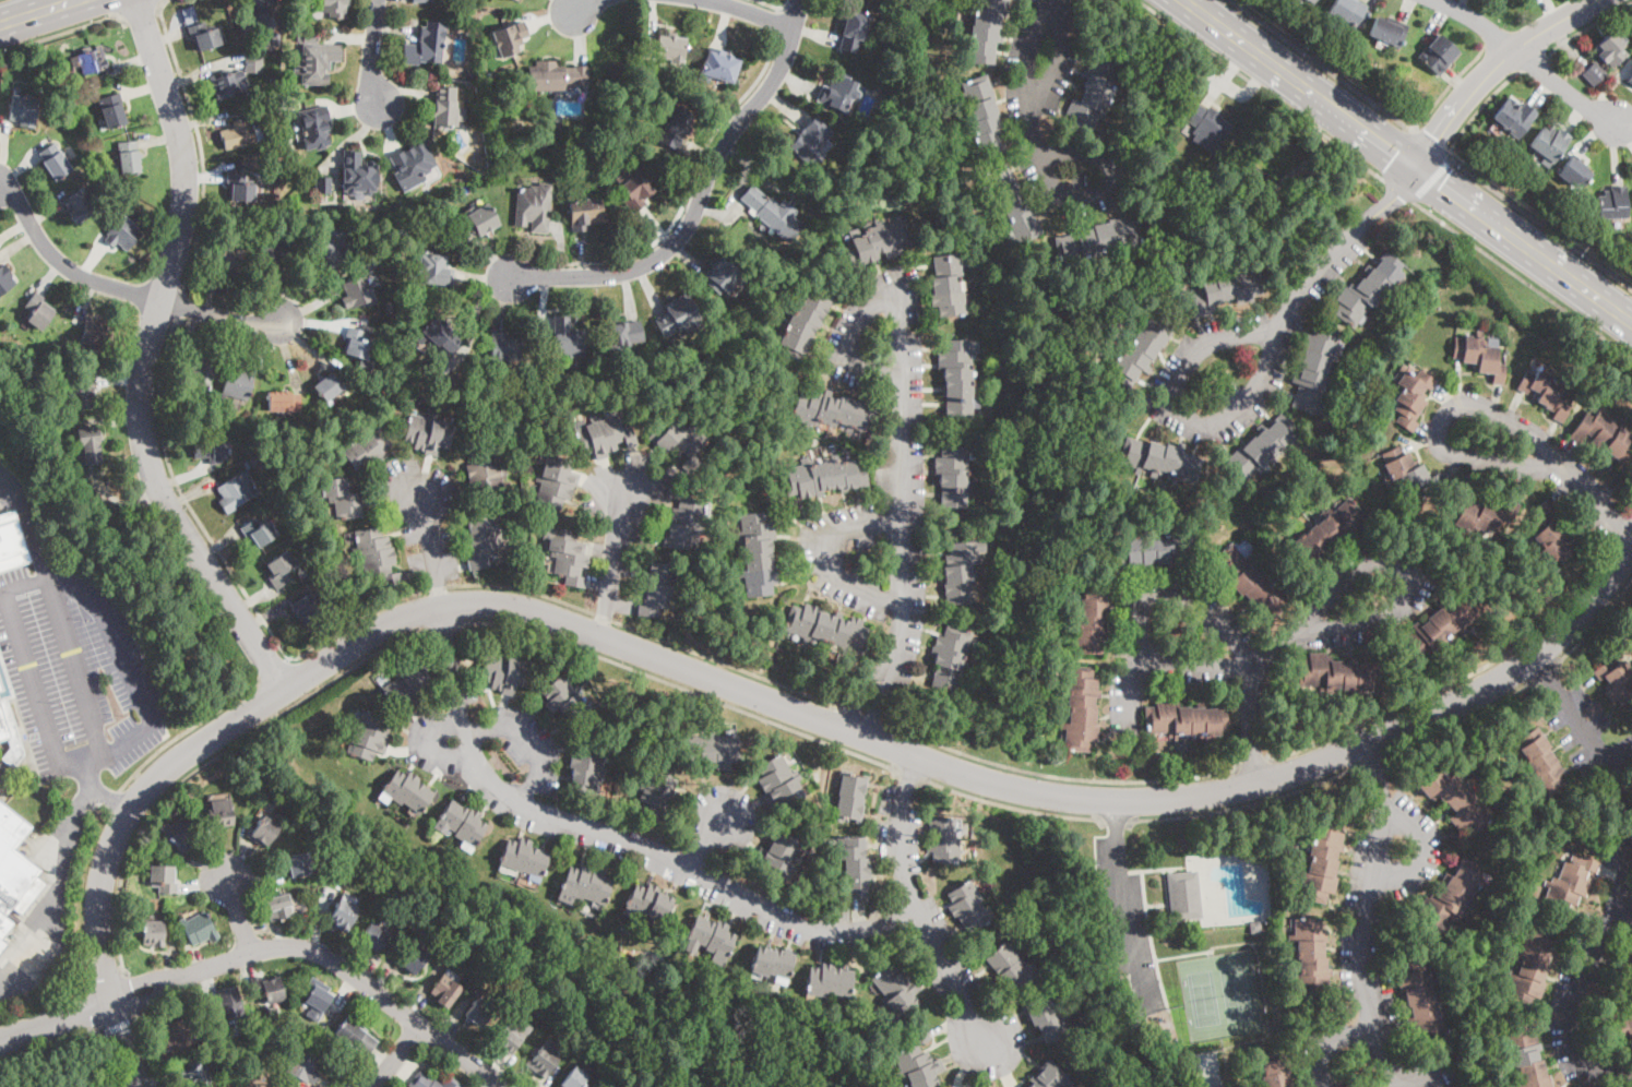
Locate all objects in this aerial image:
building: (515, 0)
building: (516, 0)
building: (1303, 0)
building: (270, 1)
building: (420, 1)
building: (1312, 1)
road: (771, 3)
road: (785, 3)
road: (584, 5)
road: (26, 7)
building: (333, 8)
road: (34, 11)
road: (752, 12)
building: (1347, 12)
road: (140, 13)
building: (254, 15)
road: (778, 22)
road: (1476, 22)
road: (1586, 24)
building: (854, 29)
building: (986, 29)
road: (62, 31)
building: (1389, 31)
building: (204, 35)
building: (509, 36)
building: (277, 37)
building: (426, 45)
building: (664, 48)
building: (1611, 49)
road: (372, 52)
building: (1439, 55)
building: (93, 59)
building: (315, 59)
road: (1532, 61)
building: (718, 65)
road: (1323, 65)
road: (1492, 67)
building: (469, 72)
building: (1595, 73)
building: (556, 76)
building: (1630, 81)
building: (225, 86)
road: (1448, 86)
road: (1262, 87)
road: (1563, 88)
building: (838, 92)
building: (1094, 94)
building: (266, 108)
building: (446, 108)
building: (112, 109)
building: (24, 110)
road: (1475, 112)
building: (982, 116)
building: (1515, 117)
building: (553, 118)
road: (1033, 119)
building: (315, 127)
building: (676, 127)
building: (1208, 128)
building: (478, 133)
building: (240, 134)
road: (1430, 141)
building: (810, 142)
road: (199, 143)
building: (1549, 144)
building: (1503, 150)
road: (1399, 154)
building: (128, 157)
road: (1407, 160)
building: (53, 162)
building: (563, 164)
building: (413, 166)
traffic signals: (1415, 166)
building: (623, 167)
building: (359, 172)
building: (1574, 172)
road: (1431, 180)
building: (1254, 181)
building: (323, 184)
building: (241, 188)
building: (1195, 188)
road: (1399, 189)
building: (633, 191)
road: (687, 192)
road: (700, 196)
building: (1270, 201)
road: (1387, 201)
building: (1613, 203)
building: (80, 204)
building: (1013, 204)
building: (534, 206)
building: (396, 208)
building: (585, 213)
building: (773, 213)
building: (476, 222)
road: (1540, 222)
building: (123, 232)
building: (1097, 239)
building: (878, 241)
building: (276, 248)
building: (332, 250)
building: (233, 259)
building: (434, 268)
building: (724, 276)
building: (5, 278)
road: (1522, 279)
building: (948, 286)
road: (121, 288)
building: (357, 290)
building: (1369, 290)
building: (1222, 291)
road: (183, 307)
building: (38, 312)
building: (679, 316)
building: (806, 322)
building: (94, 333)
building: (621, 333)
building: (440, 334)
road: (850, 336)
building: (568, 337)
building: (358, 343)
building: (505, 348)
building: (1142, 349)
building: (1479, 356)
road: (144, 357)
building: (364, 367)
building: (1315, 369)
building: (200, 375)
building: (958, 378)
building: (490, 384)
building: (238, 386)
building: (331, 386)
building: (1547, 391)
building: (84, 395)
building: (1413, 397)
building: (284, 402)
road: (1236, 409)
building: (833, 411)
building: (429, 432)
building: (601, 435)
building: (1606, 437)
building: (681, 441)
building: (90, 445)
building: (1262, 446)
building: (211, 449)
building: (367, 449)
building: (1162, 461)
building: (248, 463)
road: (1554, 464)
building: (1408, 471)
building: (486, 474)
building: (953, 475)
building: (823, 477)
building: (556, 482)
building: (234, 493)
road: (186, 498)
building: (343, 498)
road: (1631, 509)
road: (904, 510)
building: (1480, 517)
building: (686, 521)
road: (27, 523)
road: (1620, 527)
building: (259, 531)
building: (1330, 531)
building: (1551, 535)
building: (481, 540)
building: (11, 541)
road: (429, 546)
building: (1160, 550)
building: (758, 554)
building: (376, 556)
building: (568, 556)
road: (614, 557)
road: (829, 561)
building: (281, 570)
building: (960, 572)
building: (1251, 582)
building: (658, 588)
road: (1146, 596)
road: (564, 600)
road: (1396, 604)
building: (307, 607)
building: (1092, 616)
building: (329, 619)
road: (1596, 621)
road: (448, 623)
building: (827, 628)
building: (1441, 629)
building: (950, 657)
road: (1263, 659)
road: (126, 661)
road: (1198, 661)
road: (24, 666)
road: (272, 666)
road: (1545, 670)
building: (505, 672)
road: (80, 673)
building: (1336, 673)
parking lot: (75, 674)
road: (1457, 677)
building: (1617, 681)
road: (684, 686)
building: (407, 688)
building: (564, 698)
building: (1080, 708)
road: (862, 716)
road: (1461, 718)
building: (1184, 719)
building: (8, 720)
road: (184, 729)
building: (369, 736)
road: (531, 738)
building: (714, 750)
road: (213, 755)
road: (1619, 756)
road: (1370, 757)
road: (1253, 763)
building: (1540, 764)
building: (587, 769)
road: (909, 774)
road: (1056, 775)
road: (974, 776)
building: (779, 781)
road: (148, 786)
road: (95, 791)
building: (406, 791)
building: (657, 795)
building: (849, 797)
building: (1454, 798)
road: (1013, 804)
road: (1244, 804)
road: (131, 809)
building: (222, 813)
road: (1113, 820)
building: (464, 825)
building: (265, 831)
building: (178, 834)
road: (617, 838)
road: (704, 838)
building: (943, 840)
building: (525, 858)
building: (777, 859)
building: (1322, 860)
building: (299, 863)
building: (854, 865)
building: (14, 871)
building: (164, 877)
road: (1617, 879)
building: (1570, 883)
building: (587, 884)
road: (51, 886)
building: (1451, 895)
building: (1184, 896)
building: (650, 903)
road: (1123, 904)
road: (918, 905)
building: (967, 906)
building: (278, 907)
road: (1380, 911)
building: (344, 913)
road: (237, 915)
building: (1255, 927)
building: (199, 929)
building: (154, 933)
building: (713, 937)
building: (372, 939)
building: (2, 945)
road: (323, 953)
building: (410, 959)
building: (1310, 959)
building: (1625, 961)
building: (773, 964)
building: (1530, 967)
building: (1009, 968)
building: (829, 981)
building: (267, 989)
road: (130, 991)
building: (445, 991)
building: (897, 991)
park: (1238, 991)
building: (317, 993)
park: (1201, 996)
building: (1130, 998)
building: (1420, 1001)
building: (229, 1005)
building: (478, 1012)
road: (56, 1018)
building: (1045, 1018)
building: (1617, 1026)
road: (116, 1027)
building: (177, 1035)
building: (356, 1036)
building: (508, 1038)
road: (50, 1043)
road: (122, 1043)
road: (144, 1050)
road: (396, 1056)
building: (1525, 1056)
building: (544, 1059)
building: (917, 1063)
building: (303, 1065)
building: (1274, 1070)
building: (196, 1076)
building: (1049, 1077)
building: (575, 1078)
building: (432, 1082)
building: (953, 1086)
building: (1461, 1086)

